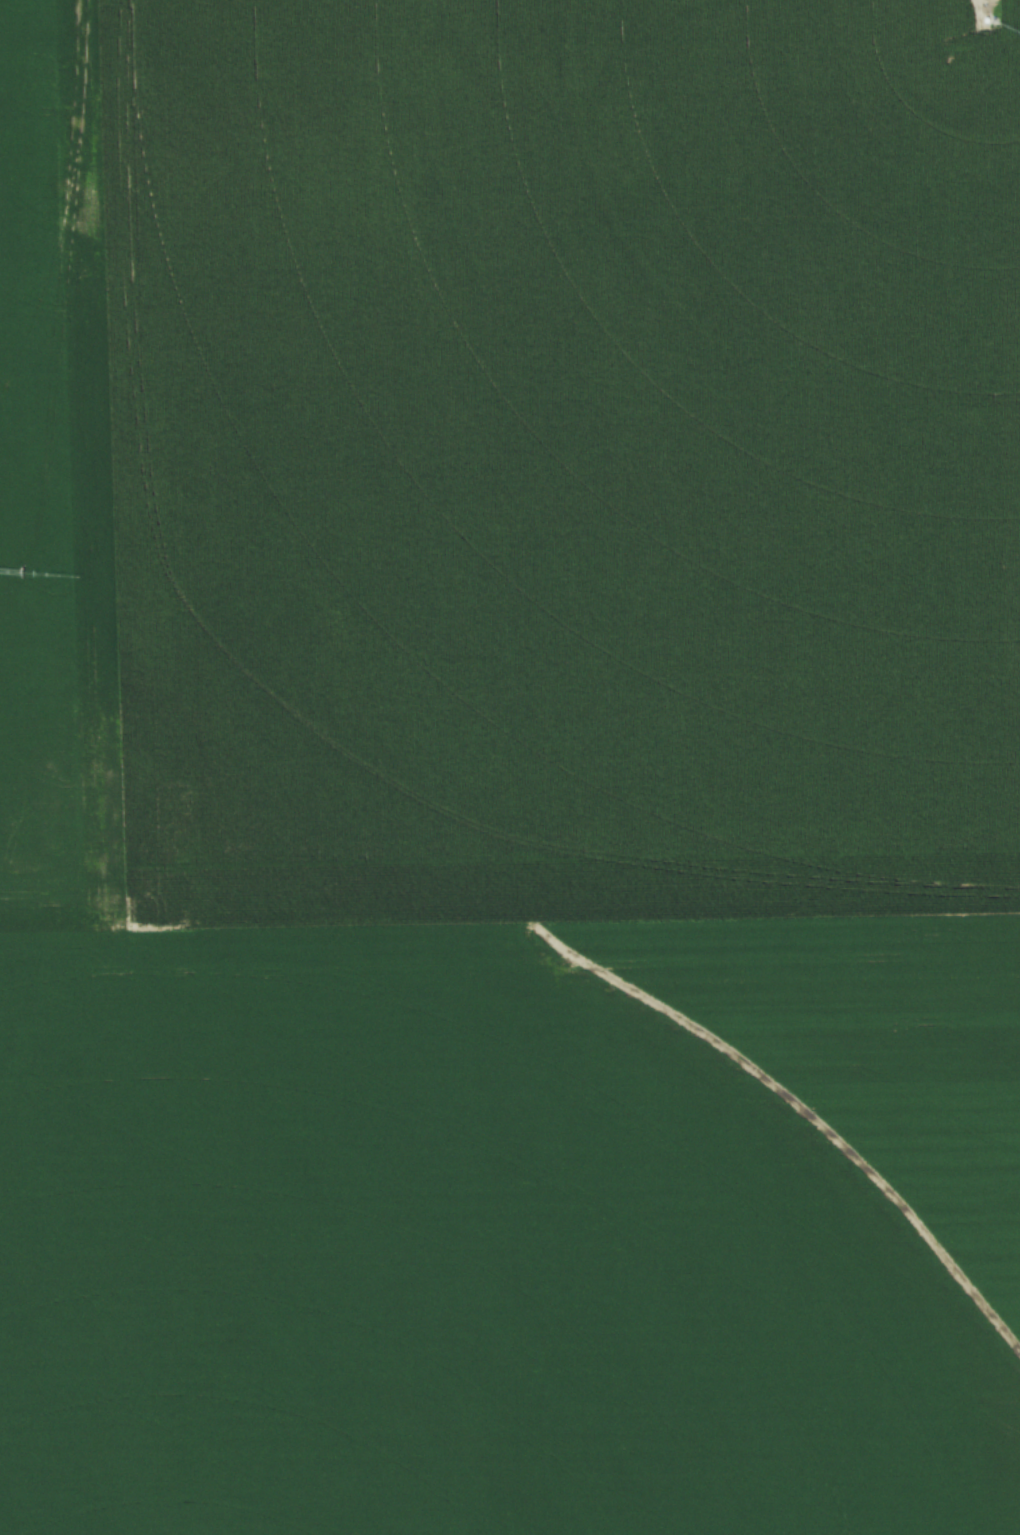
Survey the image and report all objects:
crop: (510, 767)

